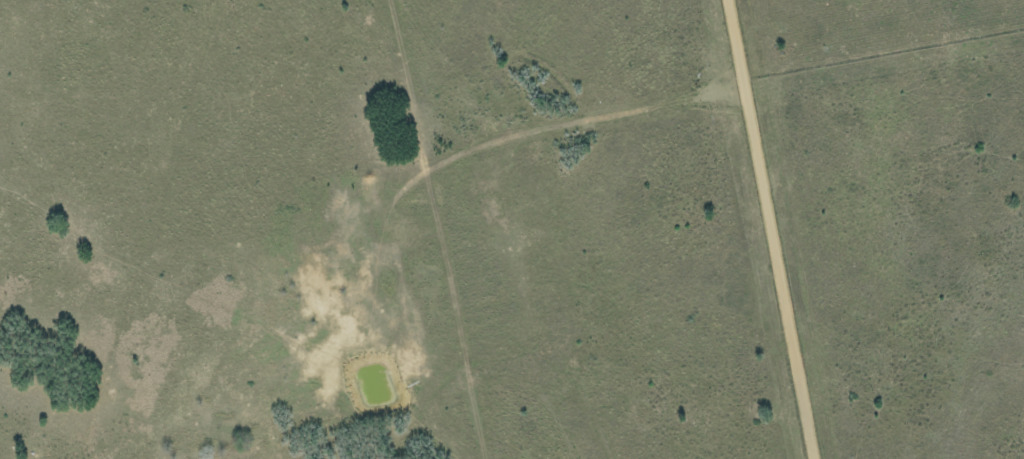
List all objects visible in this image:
road: (775, 229)

